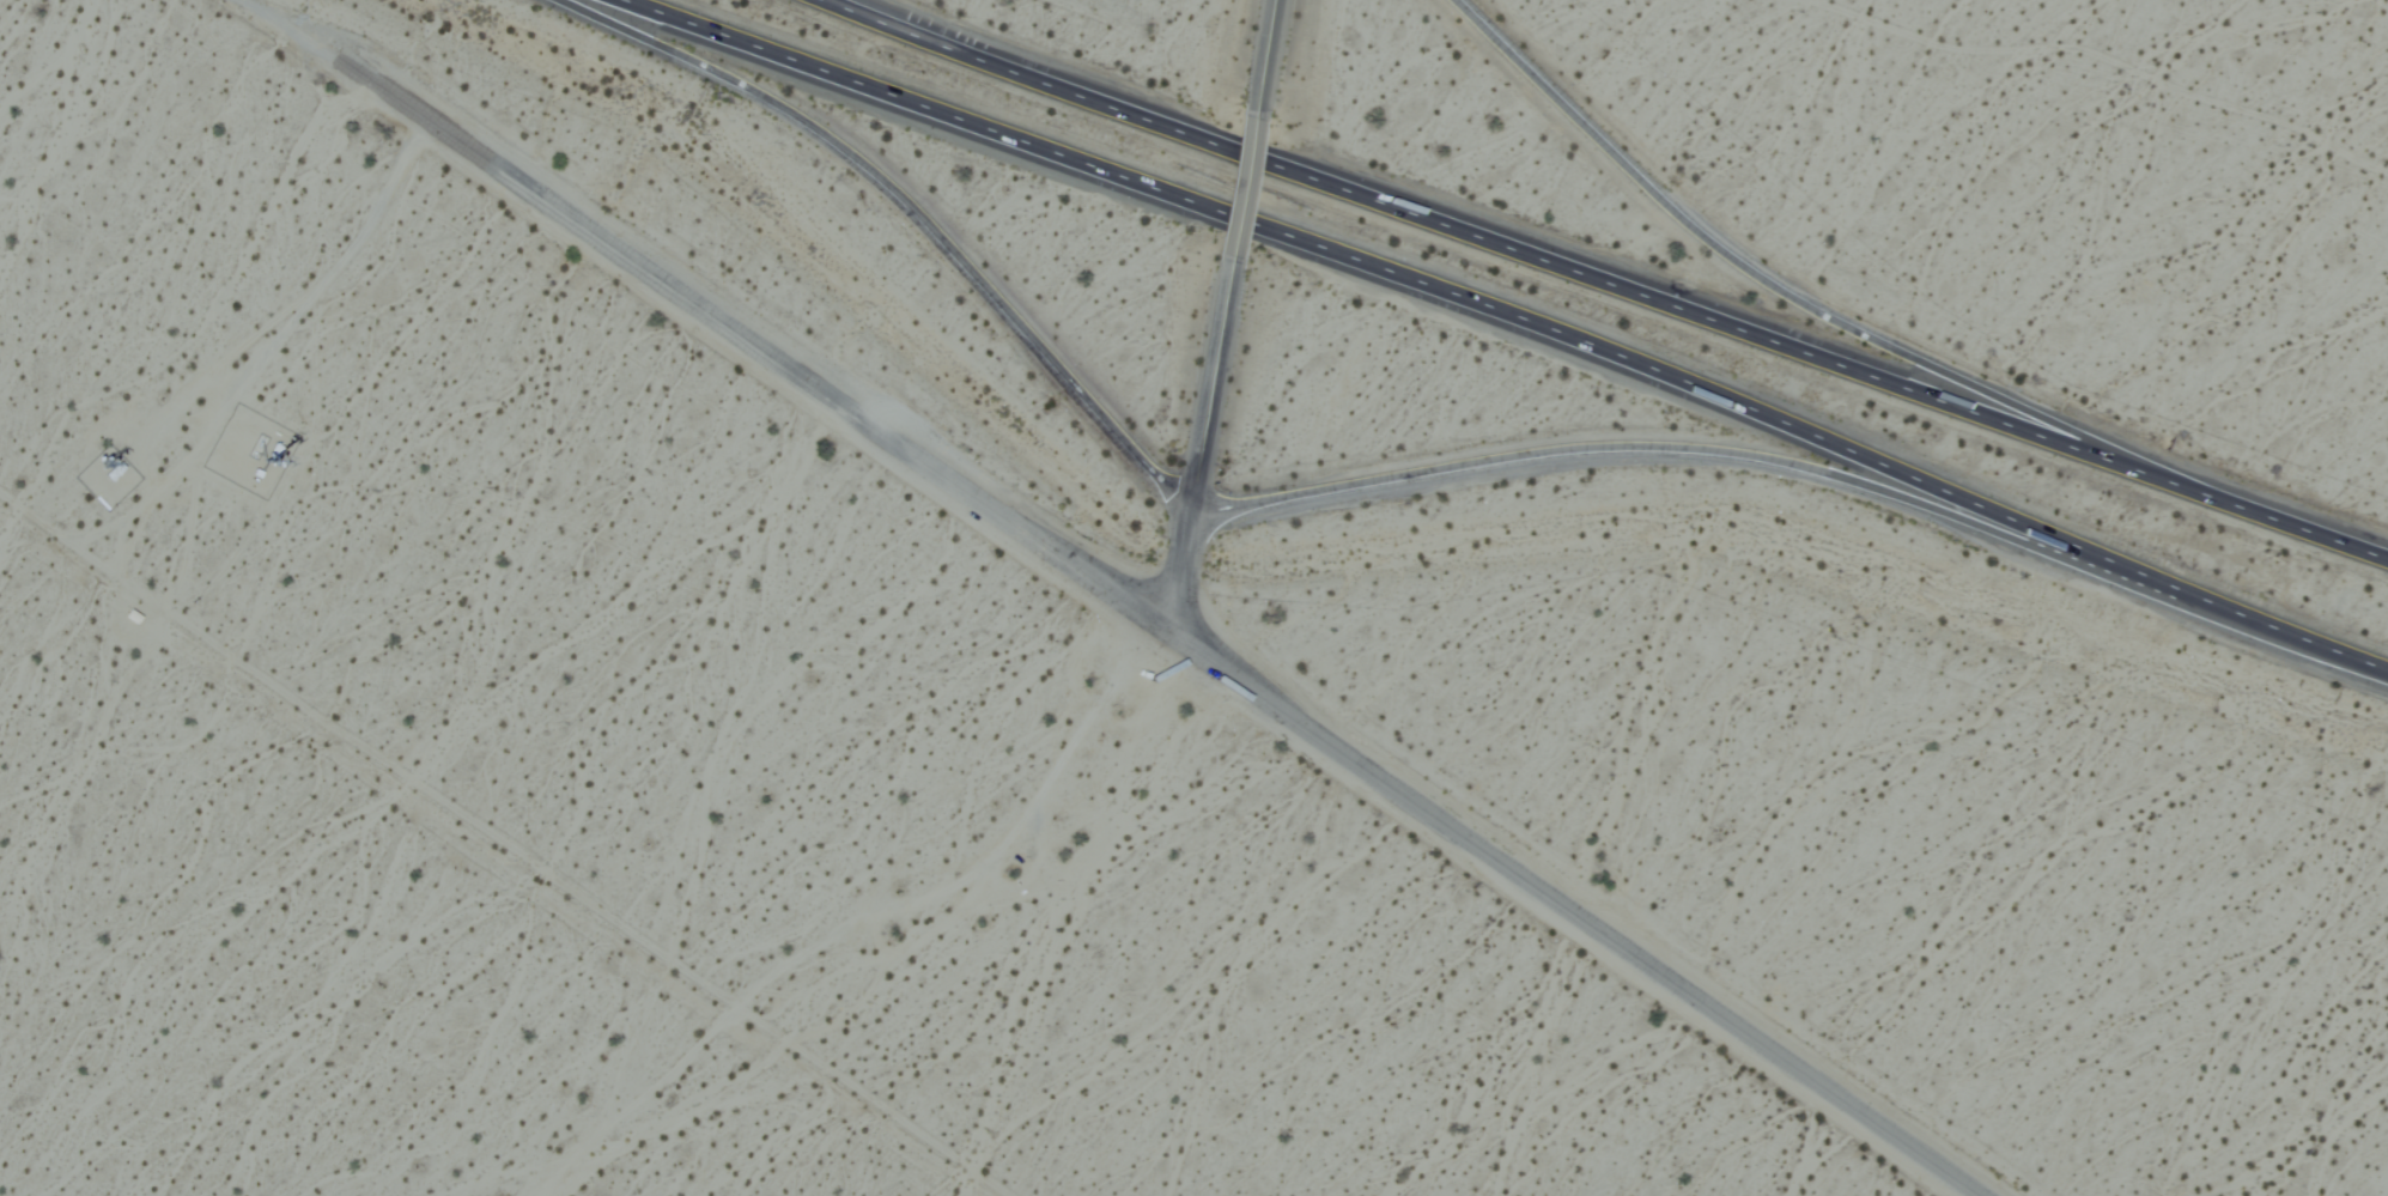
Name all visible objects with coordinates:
road: (1264, 50)
road: (1240, 193)
road: (915, 213)
road: (1396, 275)
road: (1768, 277)
road: (1624, 279)
road: (742, 332)
road: (1672, 443)
road: (1196, 455)
road: (2266, 617)
road: (1578, 910)

